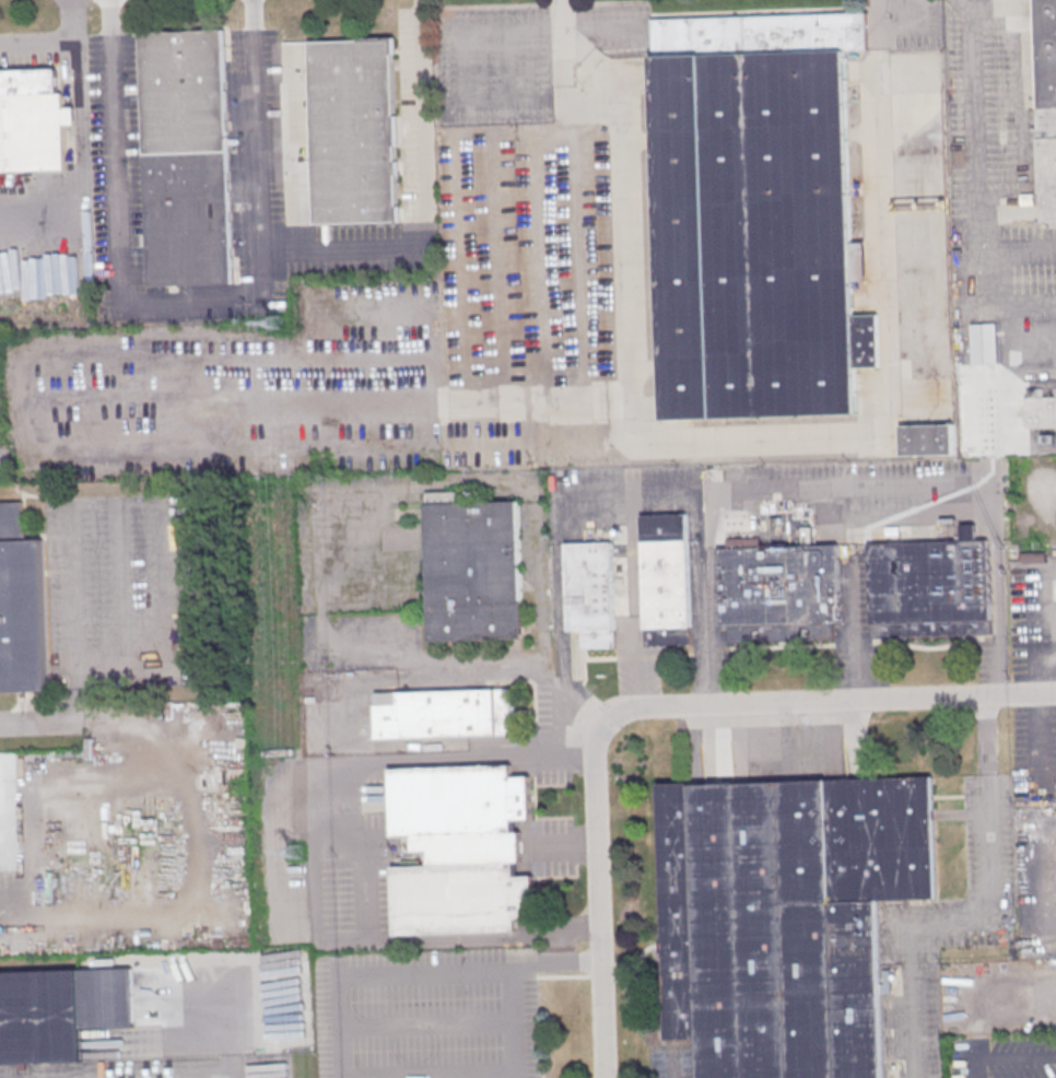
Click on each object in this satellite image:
road: (559, 13)
road: (478, 30)
road: (60, 45)
road: (544, 78)
road: (1019, 101)
building: (1045, 104)
building: (31, 120)
building: (353, 130)
building: (186, 157)
road: (973, 186)
road: (425, 197)
building: (755, 216)
road: (1020, 251)
road: (189, 307)
power tower: (275, 324)
building: (984, 343)
building: (1035, 411)
road: (739, 435)
building: (927, 440)
road: (779, 492)
road: (1053, 502)
road: (996, 520)
building: (1033, 556)
road: (559, 558)
building: (472, 569)
building: (664, 579)
building: (928, 588)
building: (779, 589)
building: (590, 593)
road: (631, 602)
building: (21, 606)
road: (77, 618)
road: (1049, 619)
road: (1054, 668)
road: (1053, 680)
road: (828, 701)
road: (986, 707)
building: (435, 713)
road: (39, 726)
building: (460, 848)
power tower: (294, 853)
road: (338, 855)
road: (594, 900)
building: (785, 917)
road: (975, 919)
road: (392, 974)
road: (508, 980)
parking lot: (427, 1012)
building: (40, 1024)
road: (674, 1067)
parking lot: (157, 1068)
road: (455, 1076)
road: (259, 1077)

